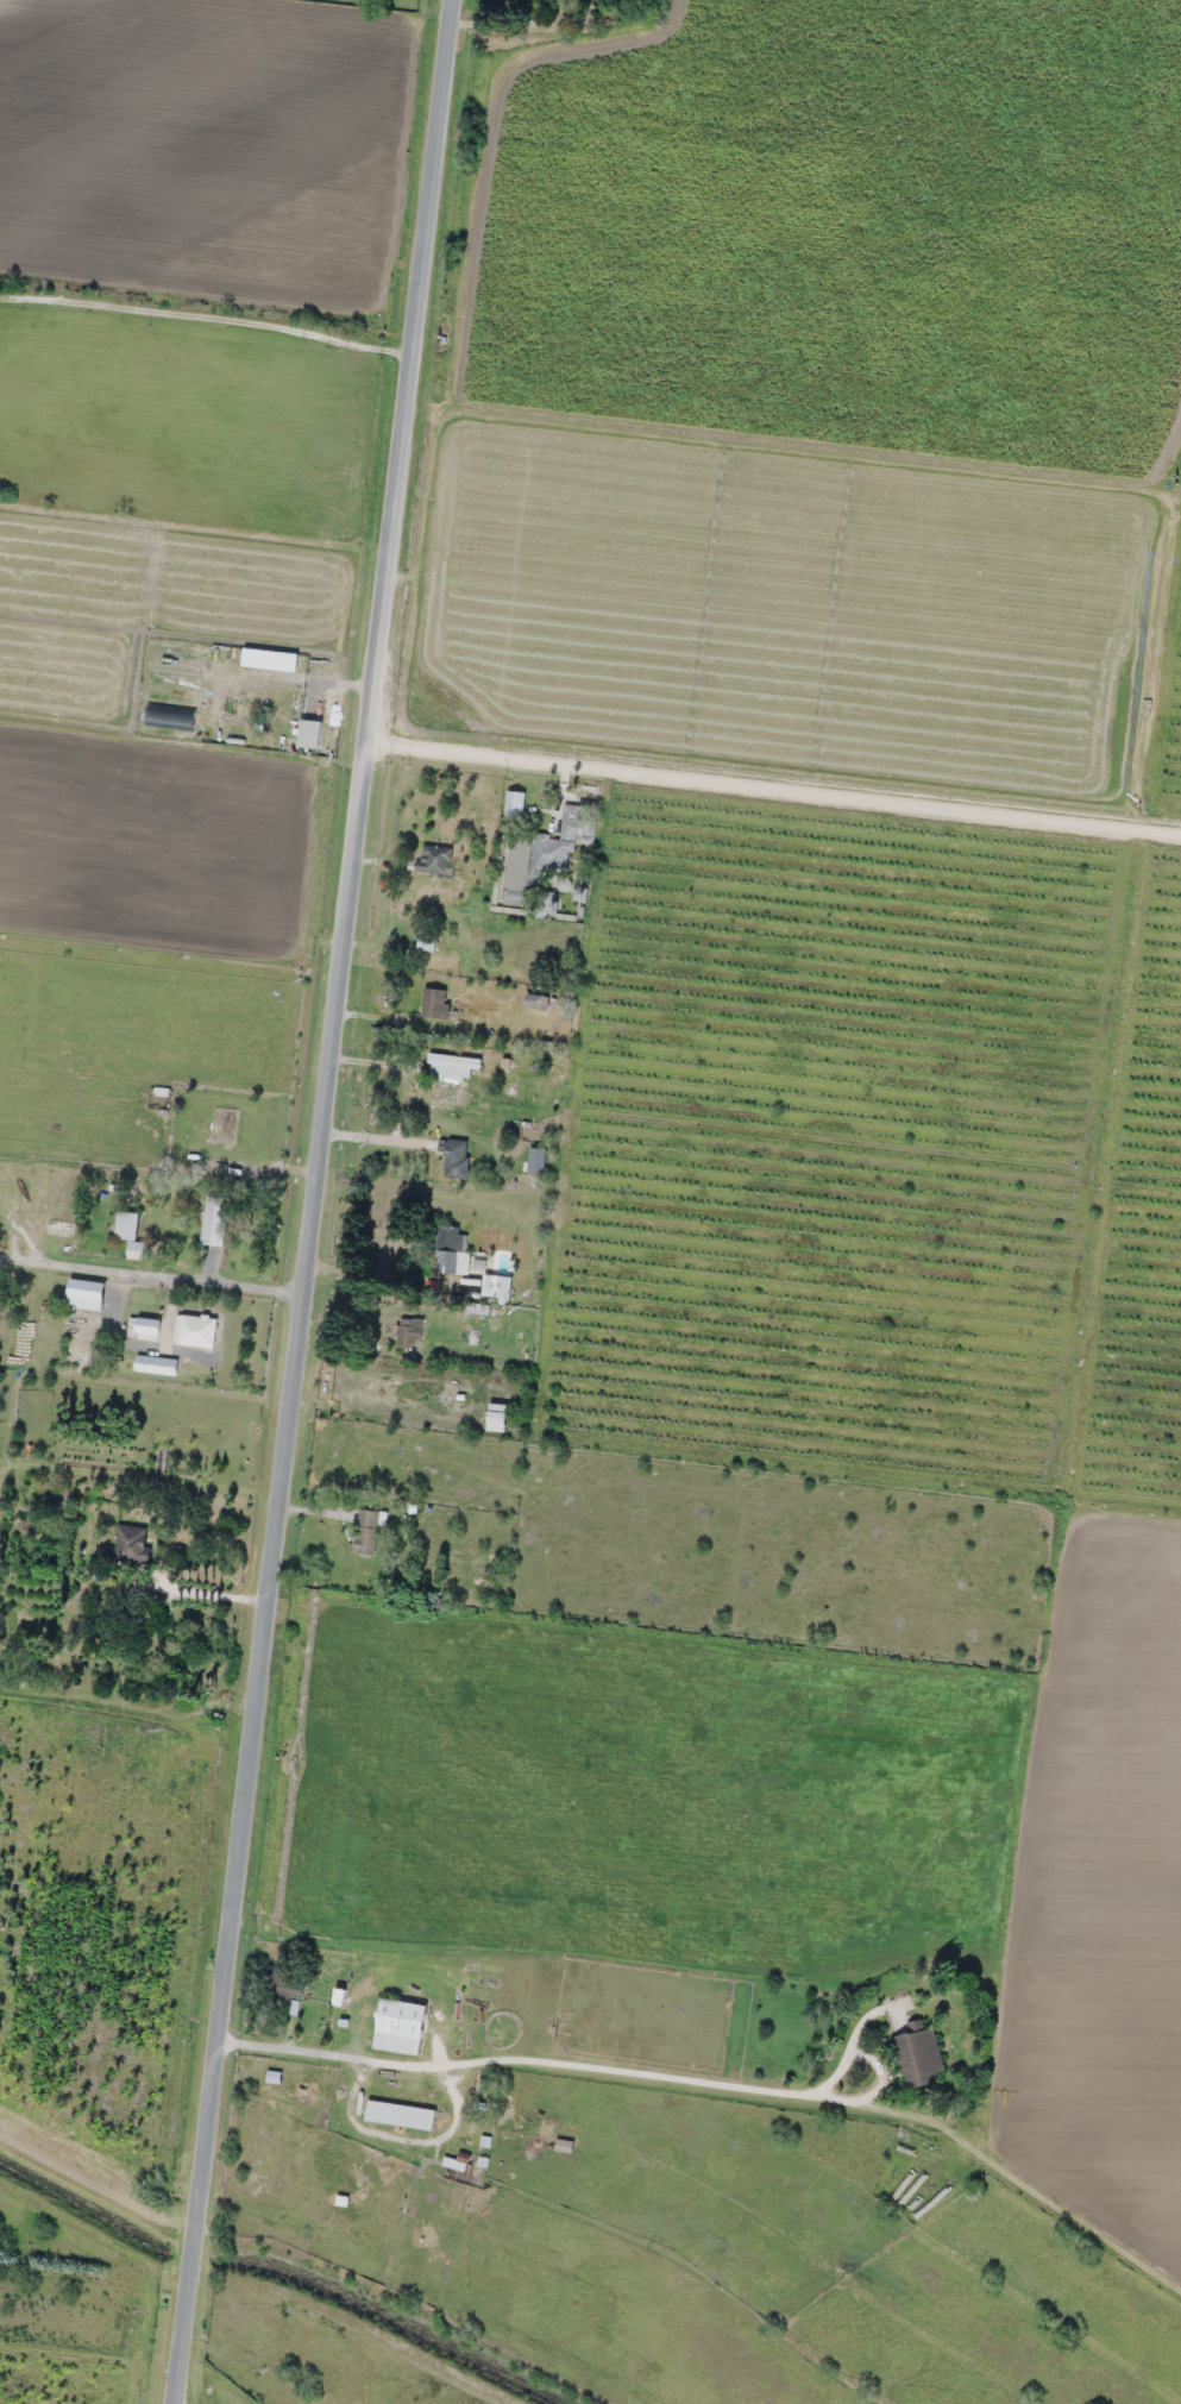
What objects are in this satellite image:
road: (209, 318)
building: (243, 684)
building: (309, 733)
road: (775, 792)
building: (568, 827)
building: (542, 856)
building: (434, 861)
building: (426, 942)
building: (434, 1003)
building: (451, 1066)
building: (456, 1159)
building: (538, 1161)
building: (0, 1201)
road: (316, 1201)
building: (214, 1220)
building: (131, 1235)
building: (450, 1251)
building: (144, 1329)
building: (197, 1331)
building: (415, 1331)
building: (366, 1532)
building: (130, 1544)
building: (284, 1988)
building: (400, 2027)
building: (918, 2055)
building: (400, 2115)

